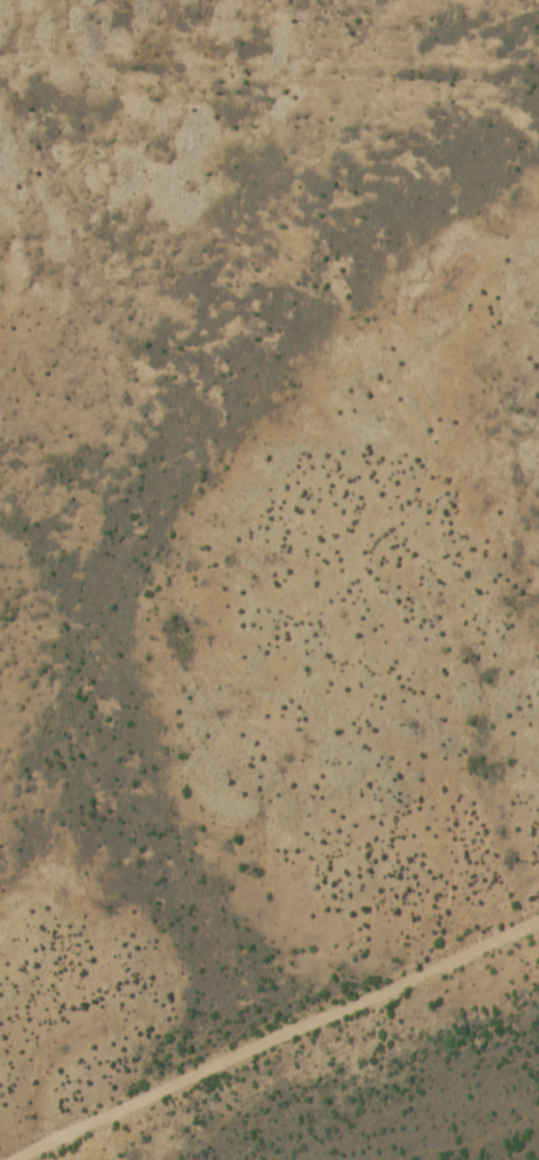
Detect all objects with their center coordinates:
road: (269, 1036)

